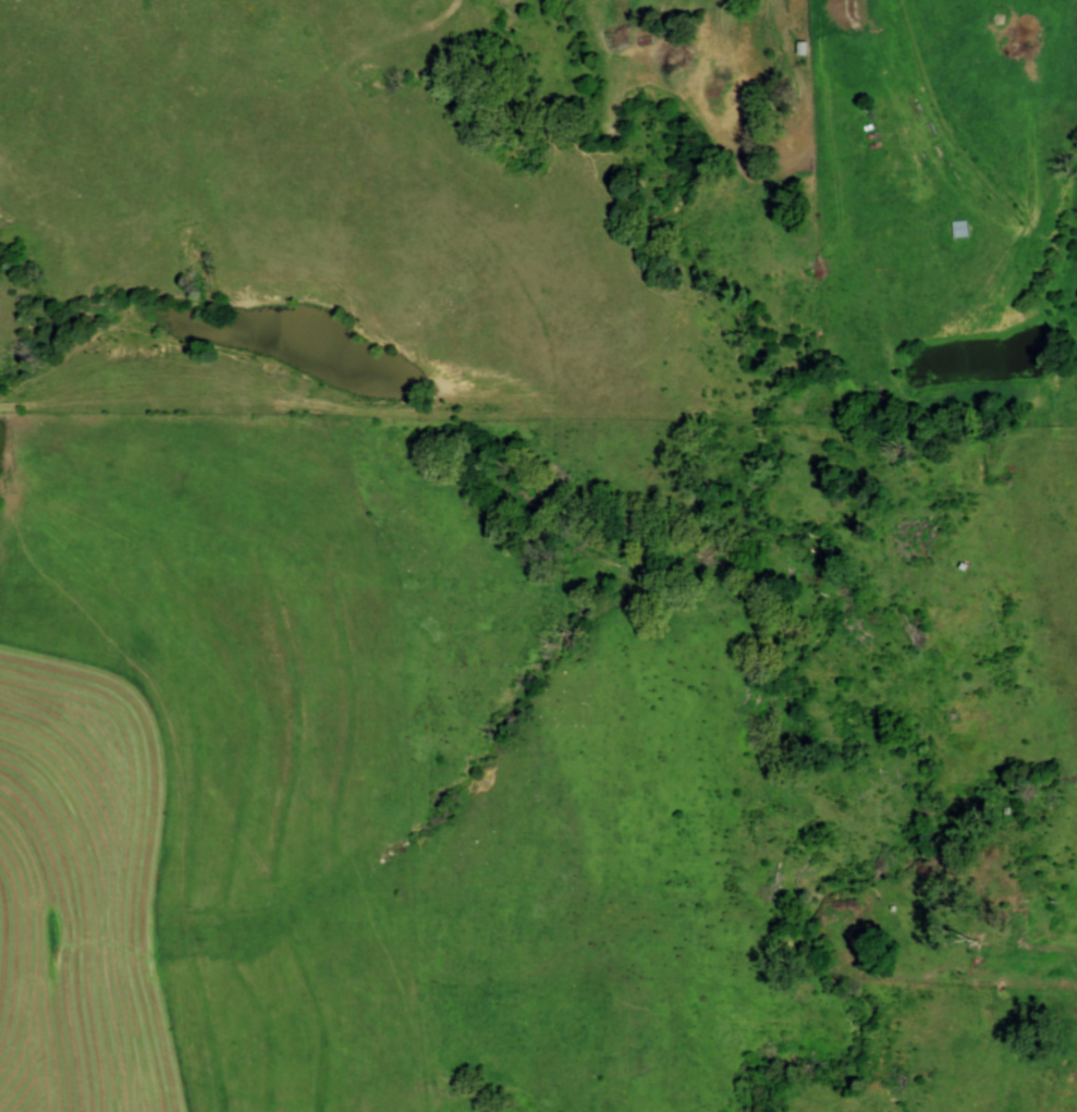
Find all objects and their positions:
building: (803, 51)

